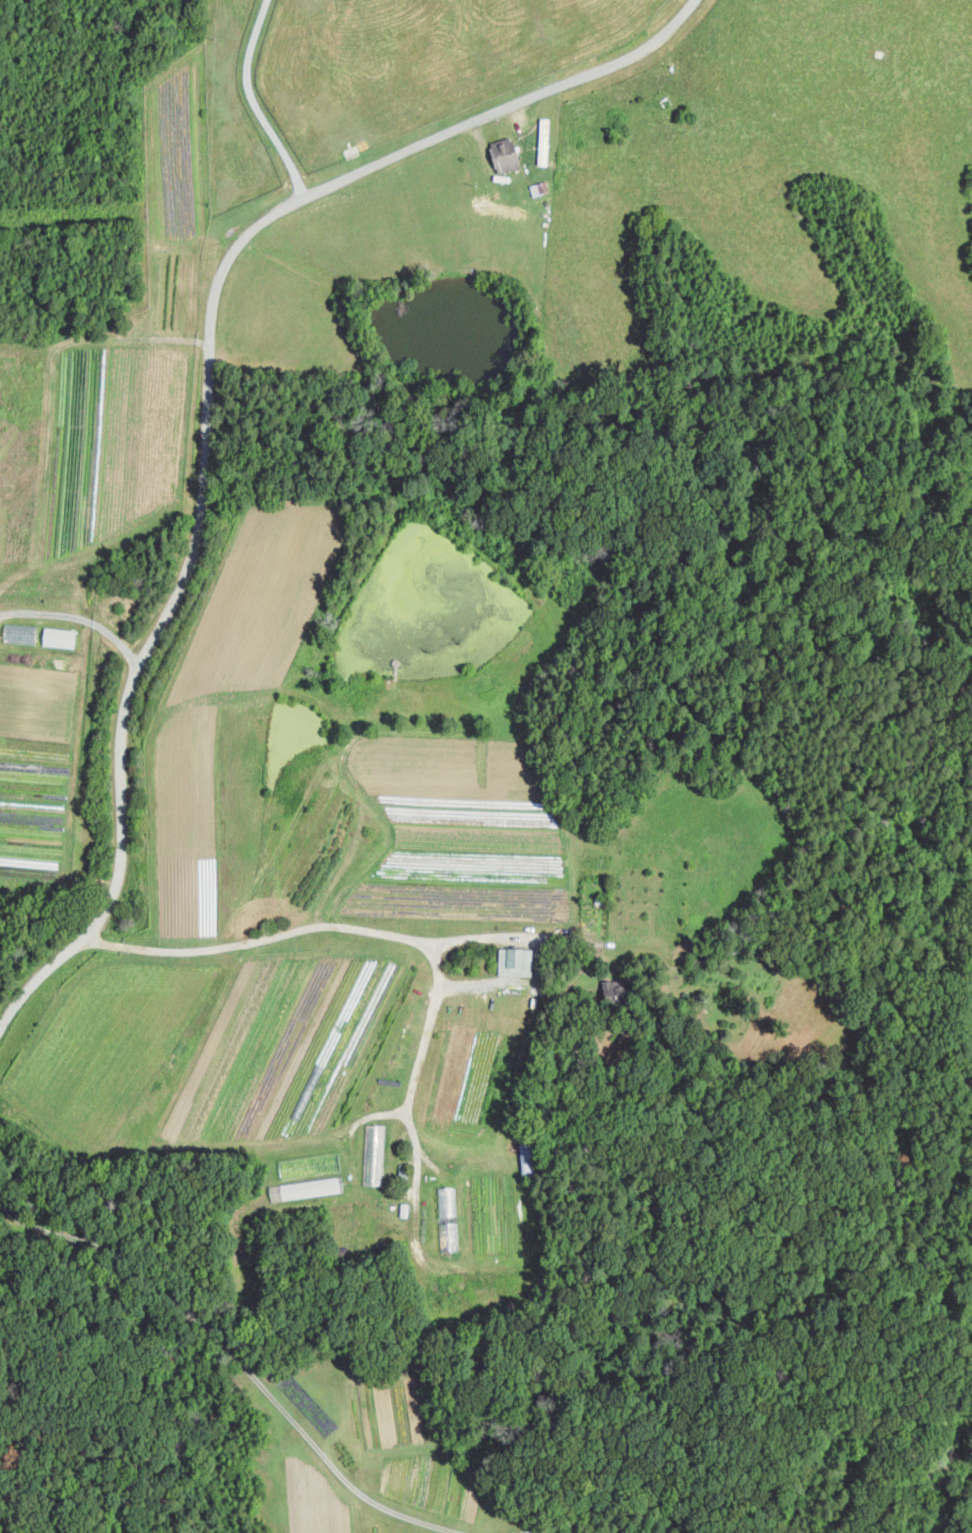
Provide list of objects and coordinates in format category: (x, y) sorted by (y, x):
road: (255, 102)
building: (545, 141)
building: (507, 154)
road: (208, 401)
road: (79, 621)
building: (16, 630)
building: (57, 634)
road: (585, 956)
building: (517, 960)
road: (438, 983)
building: (375, 1154)
building: (530, 1158)
building: (311, 1165)
building: (308, 1188)
building: (447, 1201)
building: (449, 1236)
road: (239, 1359)
road: (528, 1532)

